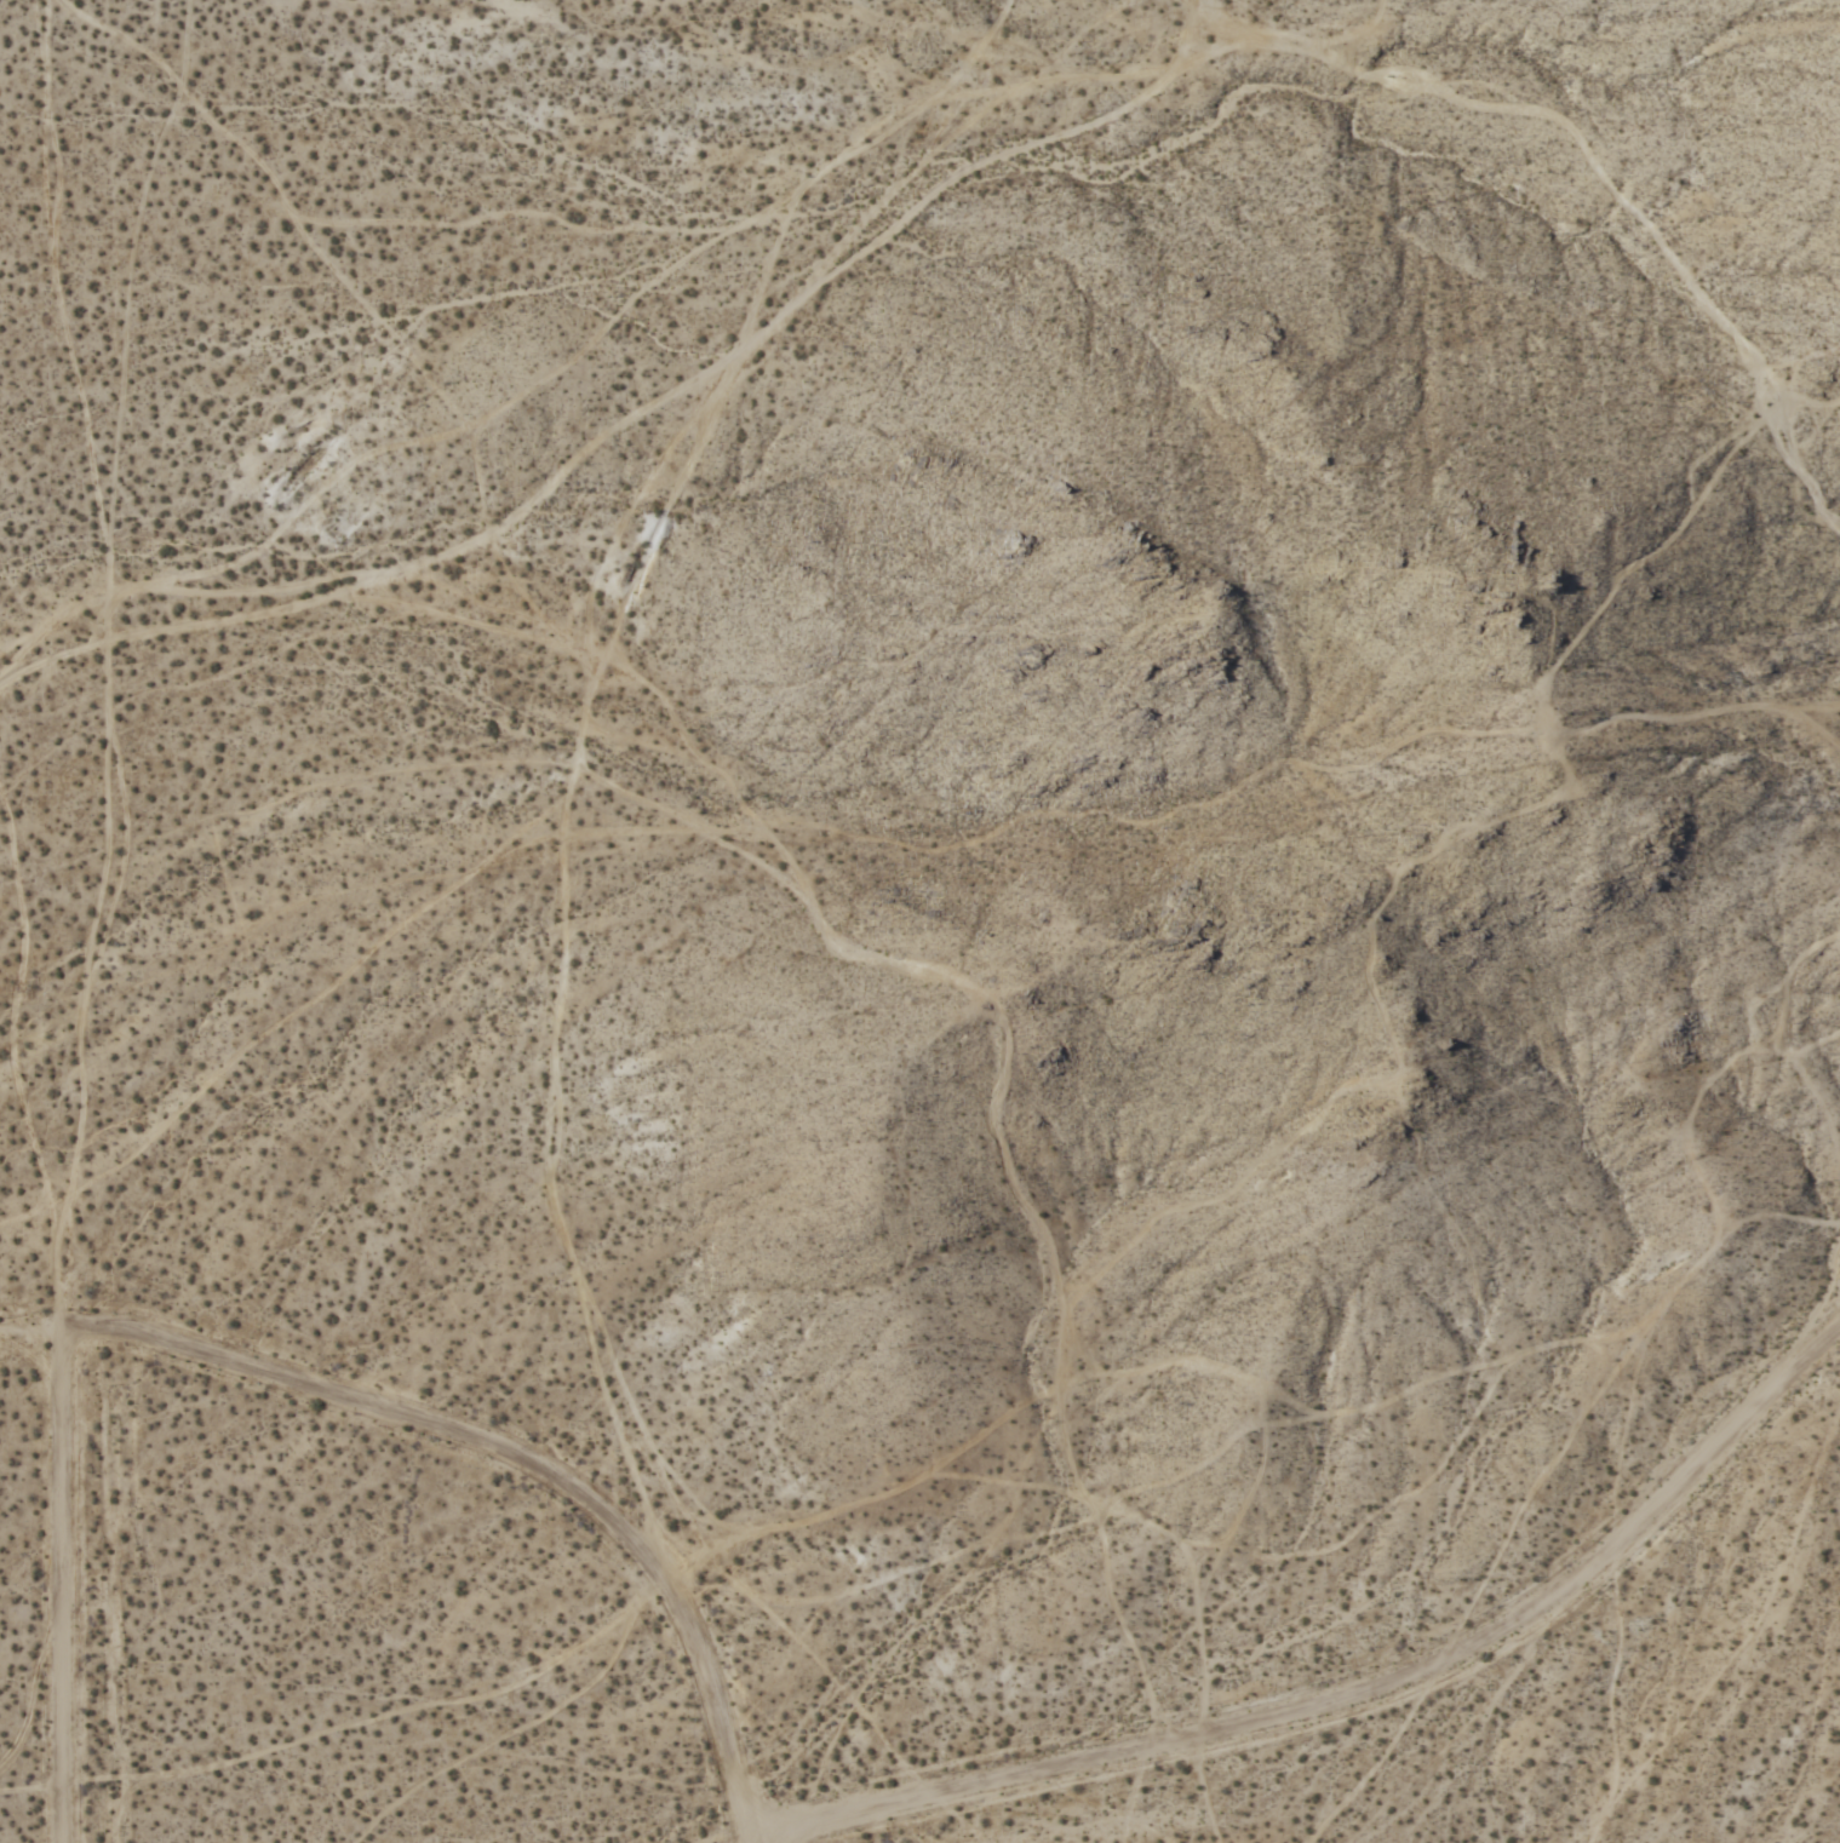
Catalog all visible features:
road: (514, 1454)
road: (61, 1585)
road: (1353, 1695)

